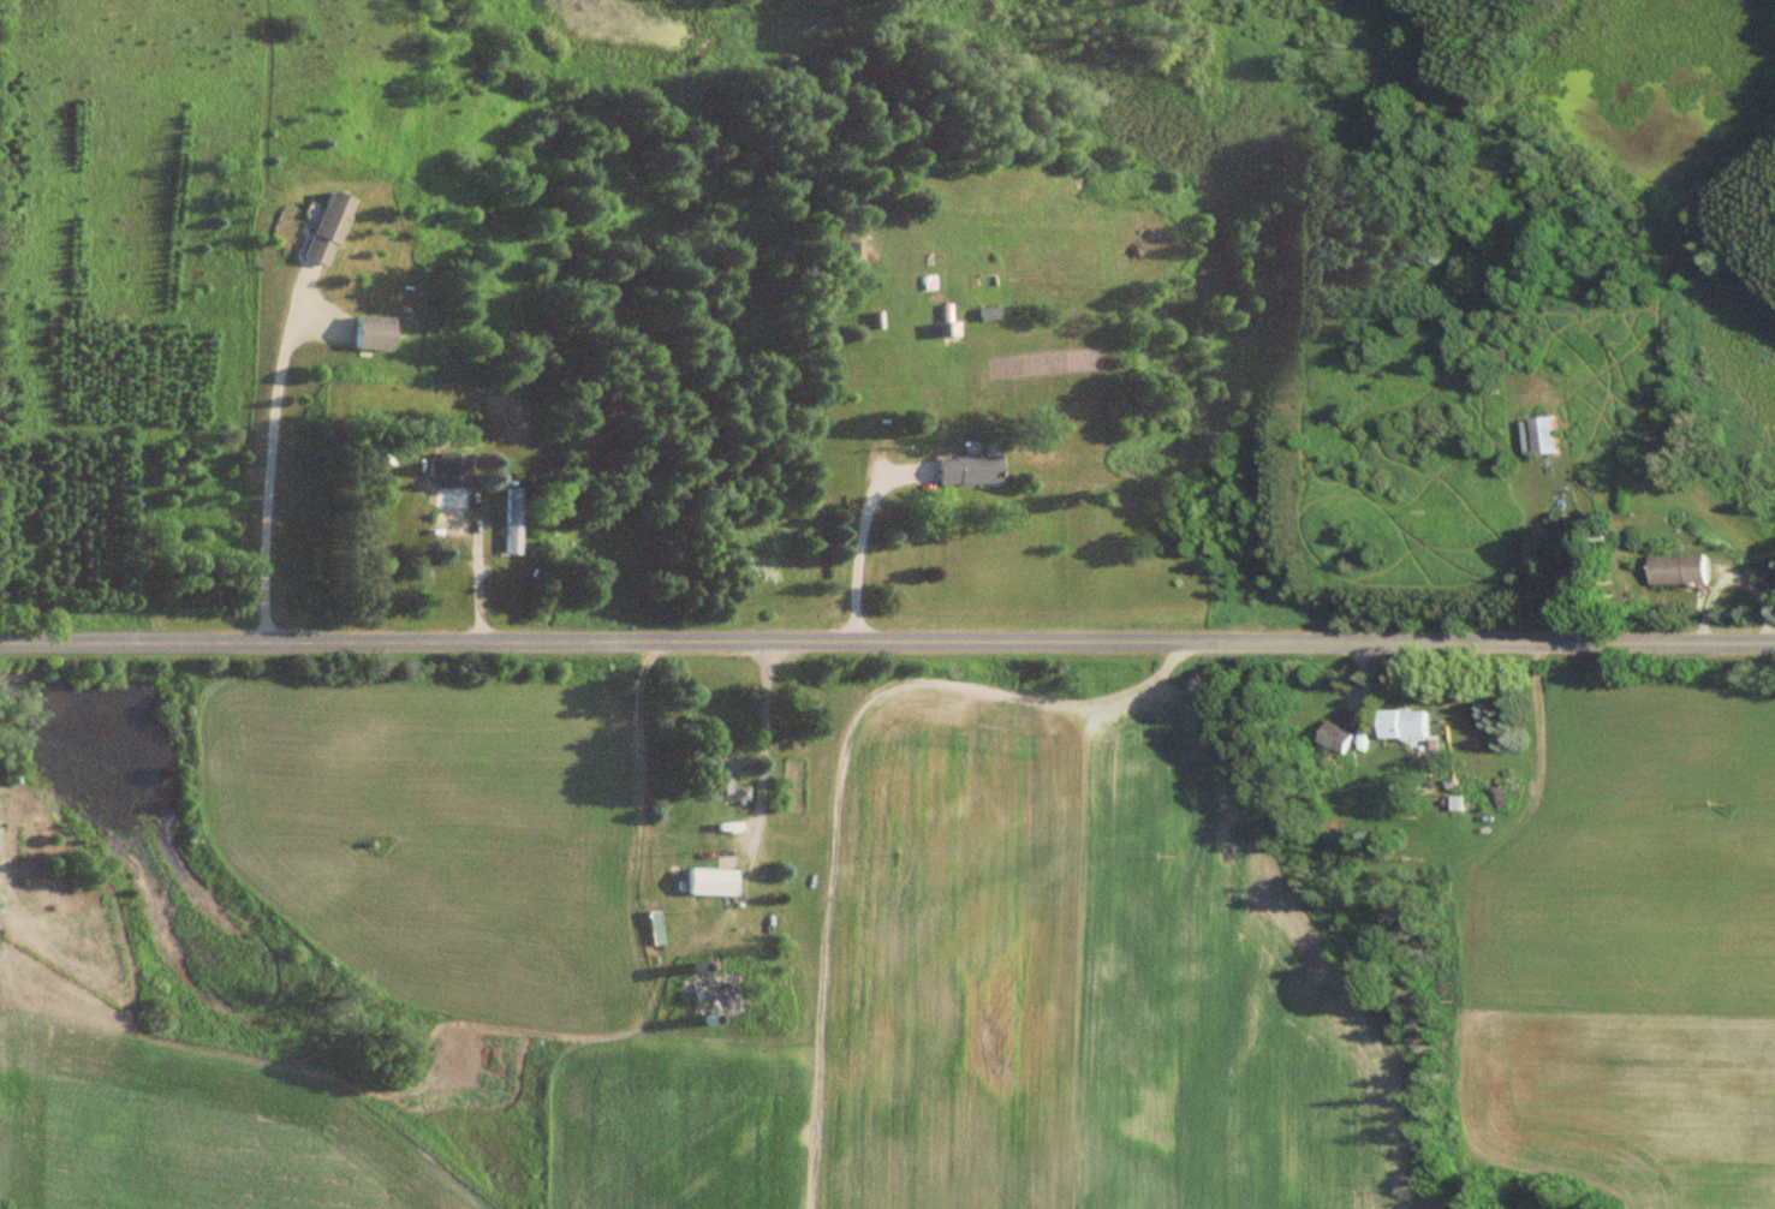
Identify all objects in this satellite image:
building: (330, 228)
building: (993, 312)
building: (376, 332)
building: (1554, 435)
building: (971, 470)
building: (451, 512)
building: (1686, 568)
road: (887, 643)
building: (1407, 723)
building: (723, 778)
building: (717, 879)
building: (727, 993)

